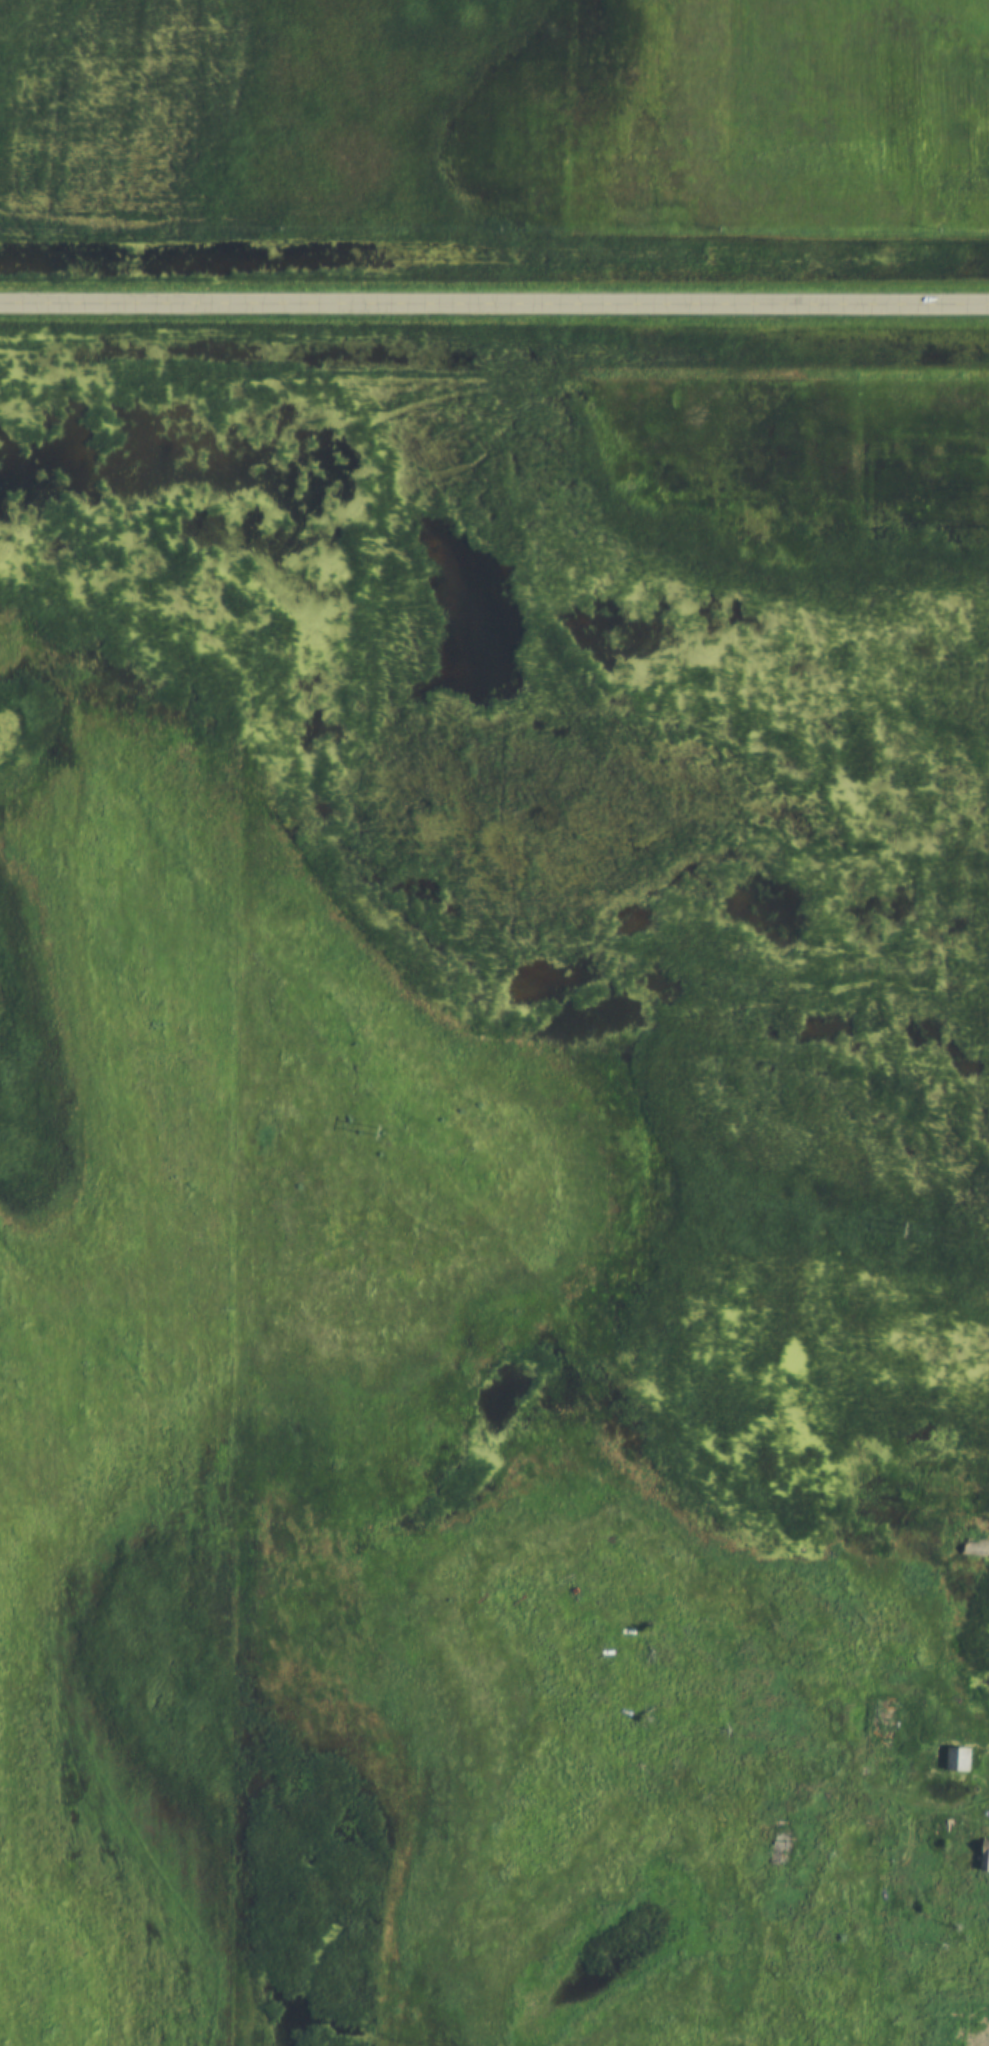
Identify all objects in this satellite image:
road: (494, 302)
power tower: (379, 1132)
power tower: (908, 1231)
building: (975, 1550)
building: (959, 1762)
road: (934, 1808)
building: (778, 1842)
building: (987, 1856)

